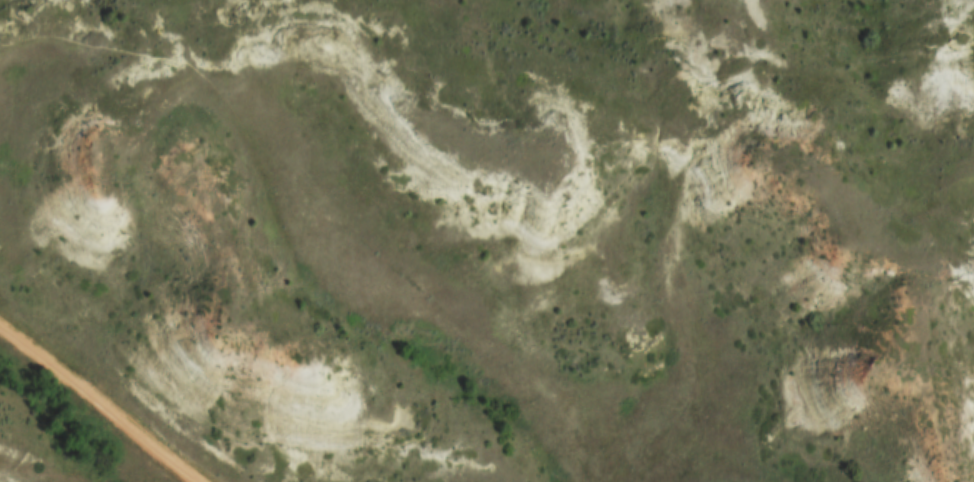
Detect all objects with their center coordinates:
road: (95, 405)

